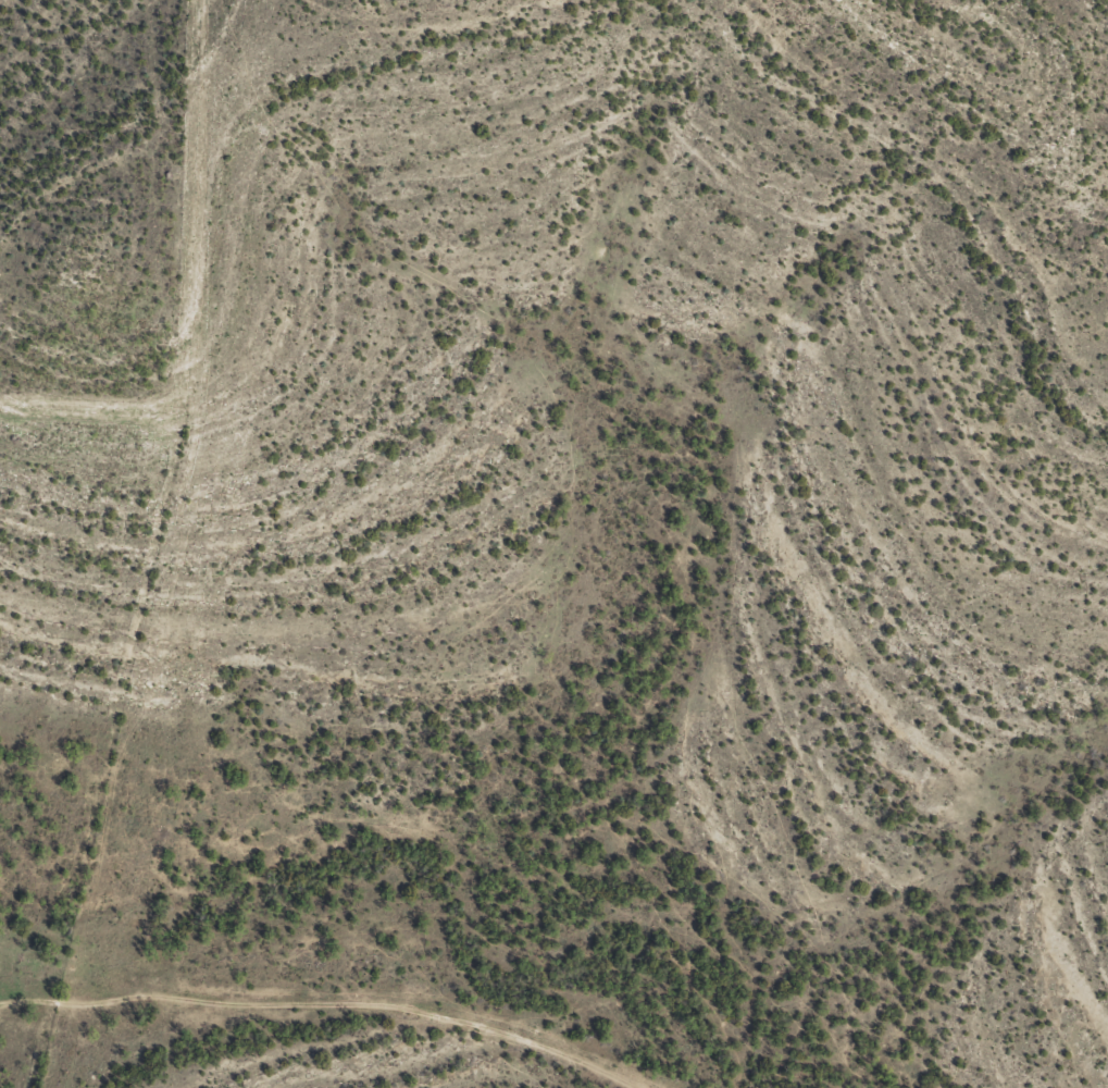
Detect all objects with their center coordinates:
road: (307, 994)

